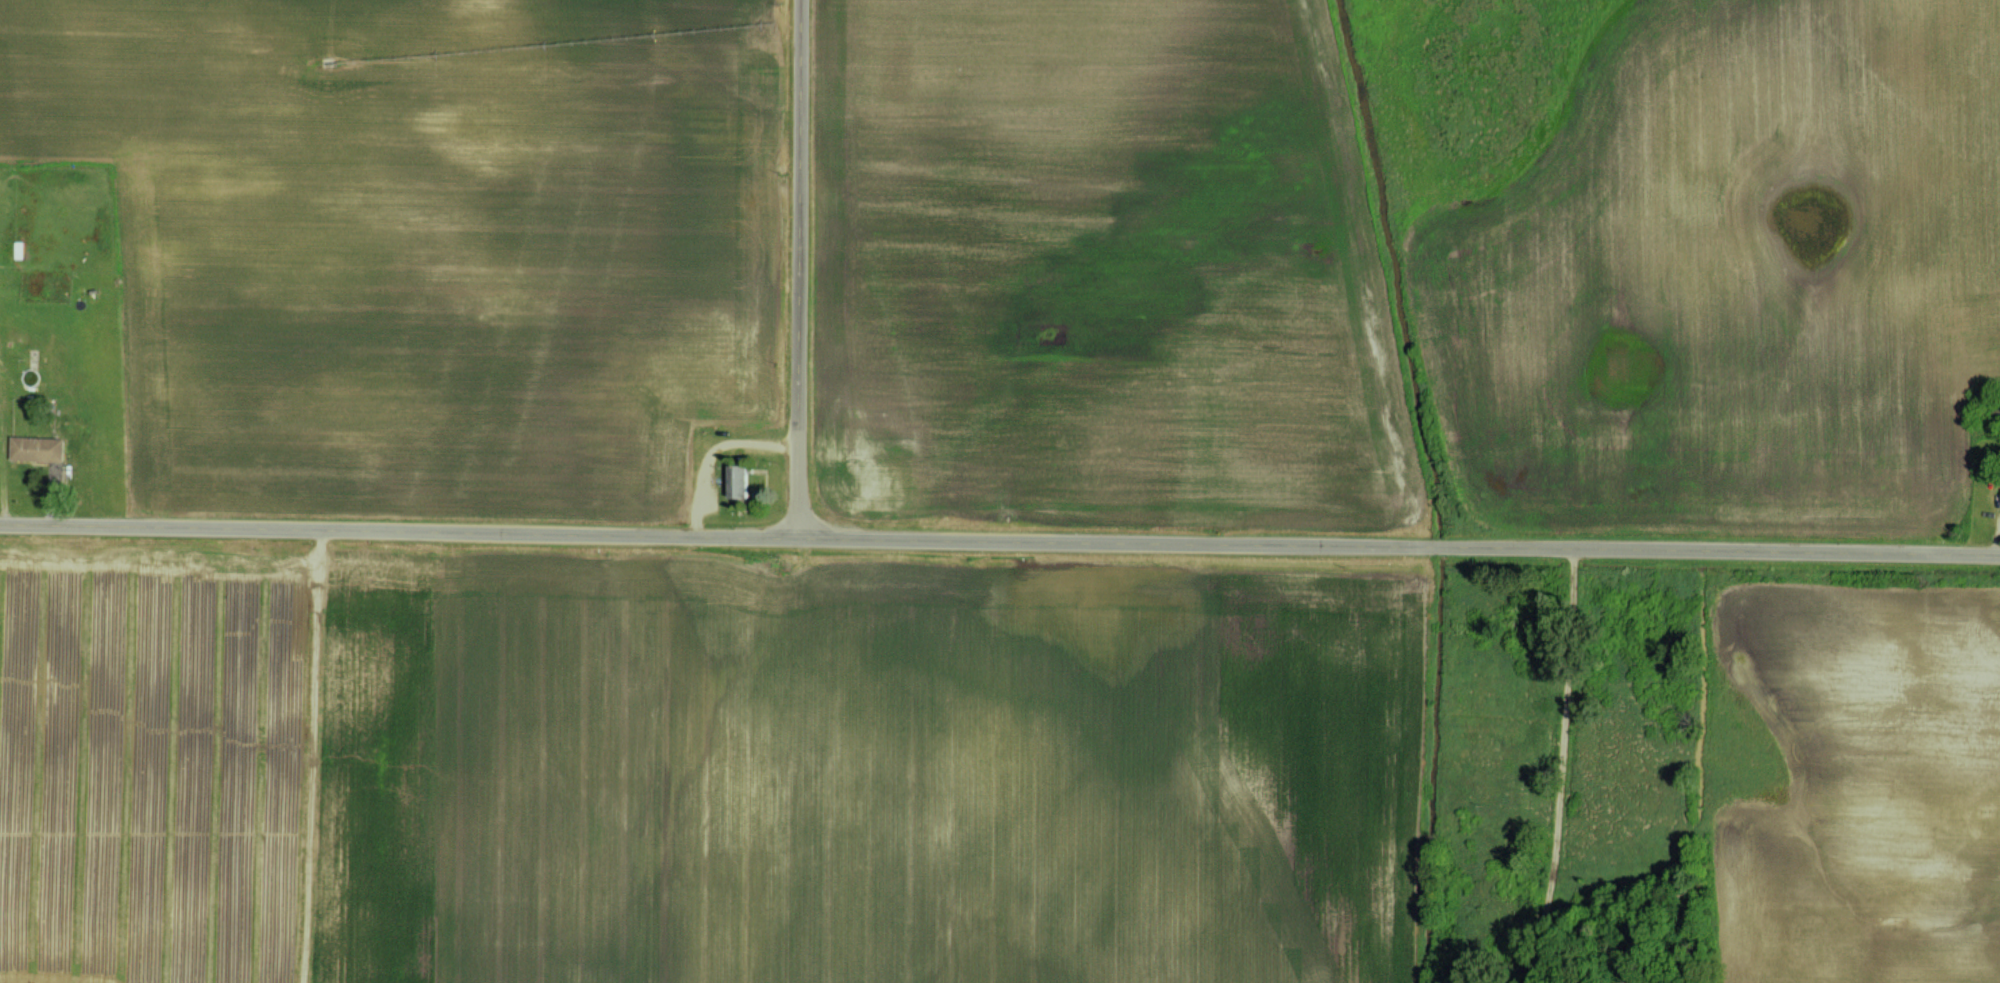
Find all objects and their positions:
building: (17, 250)
road: (802, 267)
building: (37, 449)
building: (740, 481)
road: (1000, 537)
road: (1559, 764)

